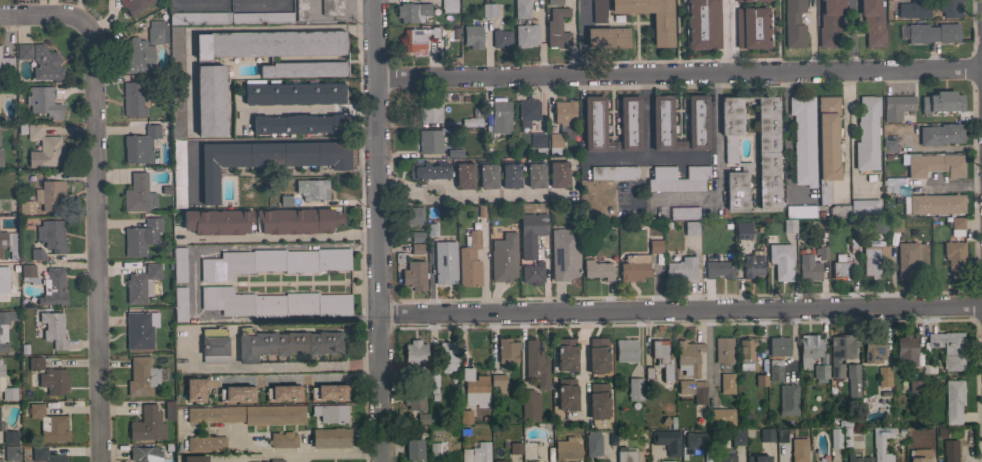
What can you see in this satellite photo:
building: (746, 0)
road: (228, 2)
building: (554, 2)
building: (134, 5)
building: (448, 5)
building: (332, 7)
building: (950, 8)
building: (522, 9)
building: (914, 9)
building: (301, 10)
building: (488, 10)
building: (410, 11)
building: (598, 11)
building: (229, 18)
building: (829, 23)
building: (872, 23)
building: (702, 24)
building: (793, 24)
building: (752, 27)
road: (235, 28)
building: (557, 29)
building: (662, 30)
building: (157, 32)
building: (933, 33)
road: (849, 34)
building: (526, 35)
road: (726, 35)
building: (472, 36)
road: (572, 36)
road: (582, 36)
building: (607, 37)
building: (501, 38)
building: (417, 39)
building: (269, 43)
building: (24, 51)
building: (137, 57)
building: (45, 63)
building: (6, 65)
building: (303, 69)
road: (678, 70)
road: (644, 84)
road: (579, 86)
building: (293, 93)
building: (132, 99)
building: (210, 100)
building: (43, 102)
building: (941, 102)
building: (896, 106)
road: (306, 110)
building: (429, 110)
building: (527, 111)
building: (564, 112)
building: (177, 114)
building: (498, 119)
building: (471, 122)
building: (662, 122)
building: (697, 122)
building: (593, 123)
building: (629, 123)
building: (298, 124)
building: (730, 126)
road: (844, 134)
building: (867, 134)
building: (941, 134)
road: (851, 138)
building: (802, 140)
building: (430, 142)
building: (538, 142)
building: (554, 143)
road: (786, 144)
building: (140, 145)
building: (680, 145)
building: (826, 146)
building: (888, 146)
building: (44, 148)
road: (716, 149)
building: (767, 152)
building: (454, 153)
building: (0, 158)
road: (613, 158)
building: (266, 159)
building: (935, 165)
building: (428, 170)
building: (613, 172)
building: (534, 173)
building: (511, 174)
building: (558, 174)
building: (464, 175)
building: (487, 175)
building: (677, 179)
building: (190, 184)
road: (446, 188)
road: (395, 189)
building: (316, 190)
building: (736, 190)
building: (138, 194)
road: (496, 194)
road: (413, 195)
building: (53, 196)
road: (706, 197)
road: (90, 199)
building: (933, 204)
building: (863, 206)
building: (26, 207)
building: (800, 211)
building: (839, 211)
building: (478, 212)
building: (683, 213)
building: (411, 215)
building: (296, 221)
building: (218, 222)
building: (895, 224)
building: (788, 225)
building: (879, 226)
building: (956, 226)
building: (691, 228)
building: (432, 229)
road: (377, 230)
building: (743, 230)
building: (530, 233)
building: (52, 235)
building: (141, 236)
road: (282, 236)
building: (417, 237)
building: (9, 243)
building: (655, 246)
building: (417, 249)
building: (821, 253)
building: (37, 254)
building: (564, 254)
building: (471, 257)
building: (503, 258)
building: (955, 258)
building: (906, 259)
building: (780, 260)
building: (872, 260)
building: (274, 262)
building: (445, 262)
building: (178, 264)
building: (753, 264)
building: (634, 267)
building: (841, 267)
building: (808, 268)
building: (681, 269)
building: (718, 269)
building: (597, 270)
building: (532, 273)
building: (28, 274)
building: (414, 275)
building: (6, 282)
building: (141, 283)
road: (191, 283)
road: (343, 284)
building: (53, 288)
building: (273, 303)
building: (180, 304)
road: (680, 311)
building: (4, 327)
building: (53, 329)
building: (140, 329)
building: (285, 343)
building: (213, 345)
building: (778, 346)
building: (874, 348)
building: (949, 348)
building: (723, 349)
building: (808, 349)
building: (625, 350)
building: (906, 350)
building: (506, 351)
road: (707, 351)
building: (746, 352)
building: (840, 352)
building: (565, 354)
building: (597, 355)
building: (447, 357)
building: (688, 357)
building: (415, 358)
road: (581, 362)
building: (35, 363)
building: (536, 363)
building: (659, 363)
road: (273, 366)
building: (774, 370)
building: (820, 372)
building: (142, 376)
building: (884, 376)
building: (853, 379)
building: (760, 380)
building: (53, 381)
building: (433, 383)
building: (499, 383)
building: (727, 383)
building: (6, 388)
building: (195, 388)
building: (474, 388)
building: (691, 388)
building: (634, 389)
building: (915, 389)
building: (328, 392)
building: (283, 393)
building: (236, 394)
building: (566, 394)
building: (787, 399)
building: (415, 400)
building: (598, 400)
building: (953, 401)
building: (530, 406)
building: (169, 410)
building: (330, 413)
building: (248, 414)
building: (465, 416)
building: (720, 416)
building: (422, 418)
building: (49, 424)
building: (147, 425)
building: (1, 427)
building: (766, 434)
building: (781, 435)
building: (10, 437)
building: (737, 437)
building: (330, 438)
building: (835, 438)
building: (282, 440)
building: (919, 440)
building: (667, 441)
building: (697, 441)
building: (593, 443)
building: (206, 444)
building: (881, 444)
building: (437, 448)
building: (515, 448)
building: (413, 449)
building: (567, 450)
building: (799, 450)
building: (949, 450)
building: (530, 451)
road: (324, 452)
building: (11, 453)
building: (476, 453)
building: (145, 454)
building: (45, 455)
building: (625, 455)
building: (919, 455)
building: (725, 457)
building: (852, 457)
building: (194, 458)
building: (757, 458)
road: (707, 459)
building: (0, 460)
building: (276, 460)
building: (866, 460)
building: (499, 461)
building: (603, 461)
building: (666, 461)

